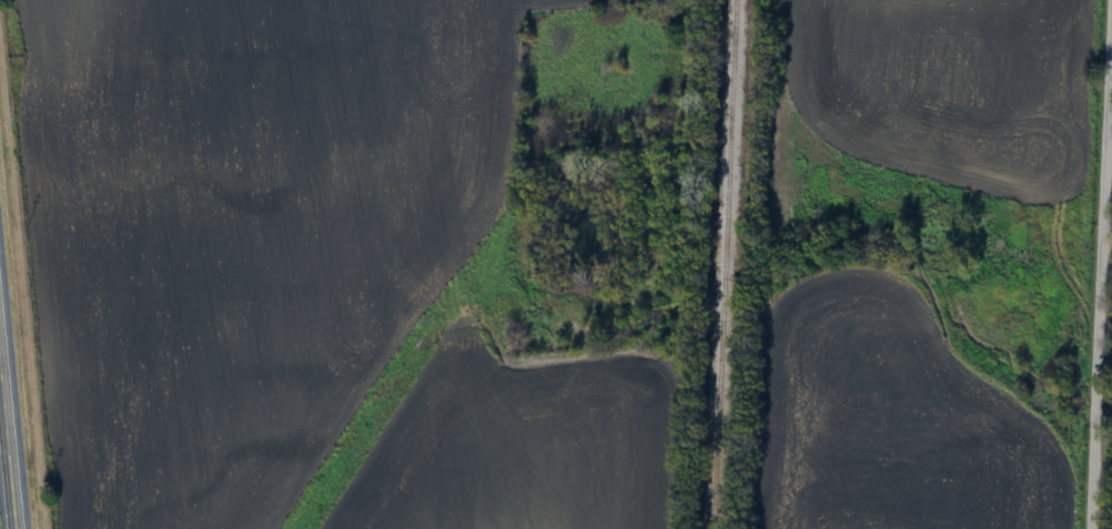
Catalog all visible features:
railway: (720, 264)
road: (1101, 265)
road: (12, 408)

